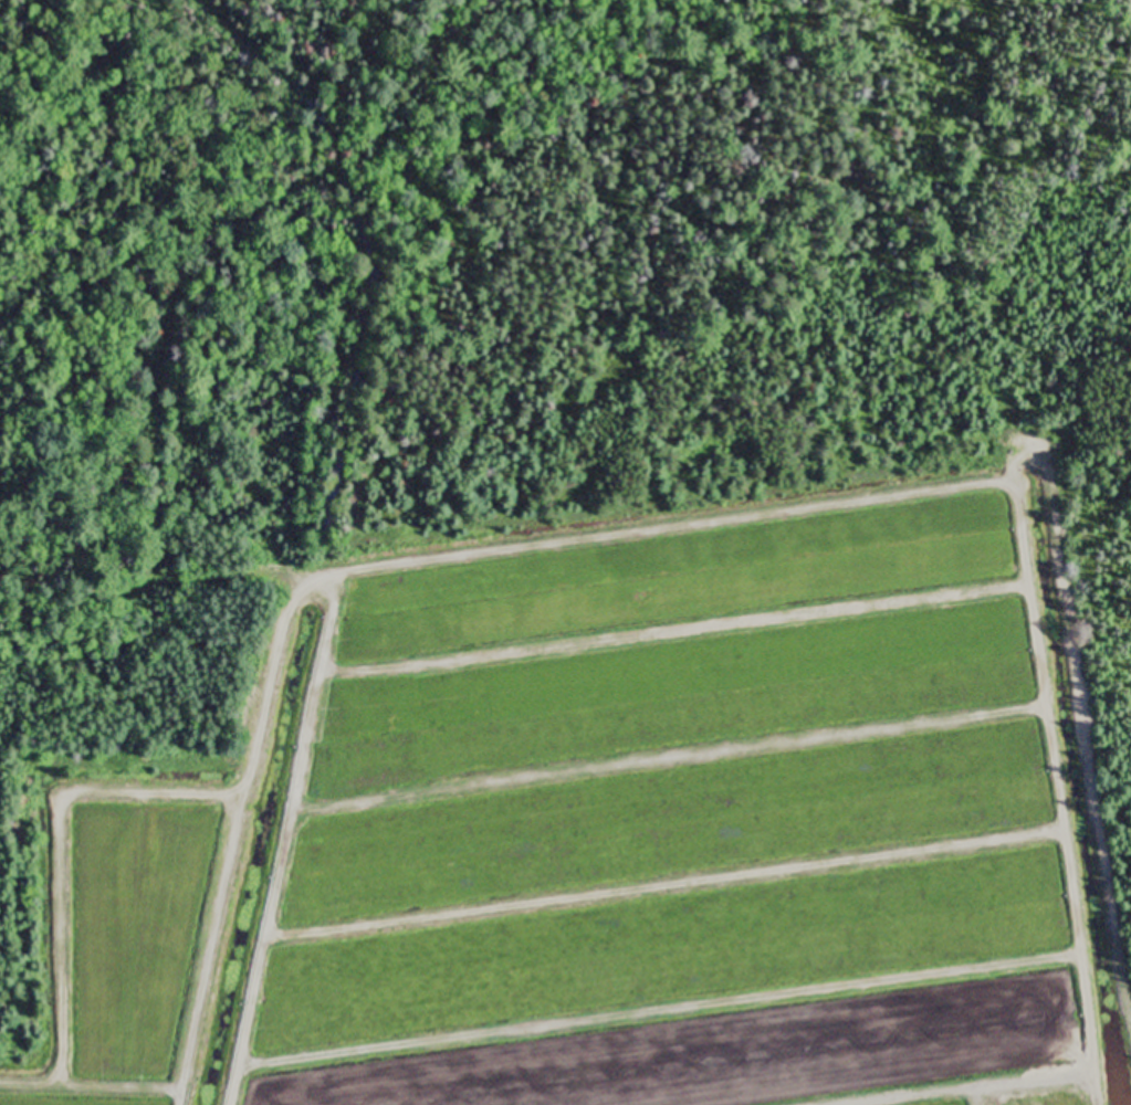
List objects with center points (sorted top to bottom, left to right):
road: (1031, 629)
crop: (677, 832)
crop: (135, 947)

